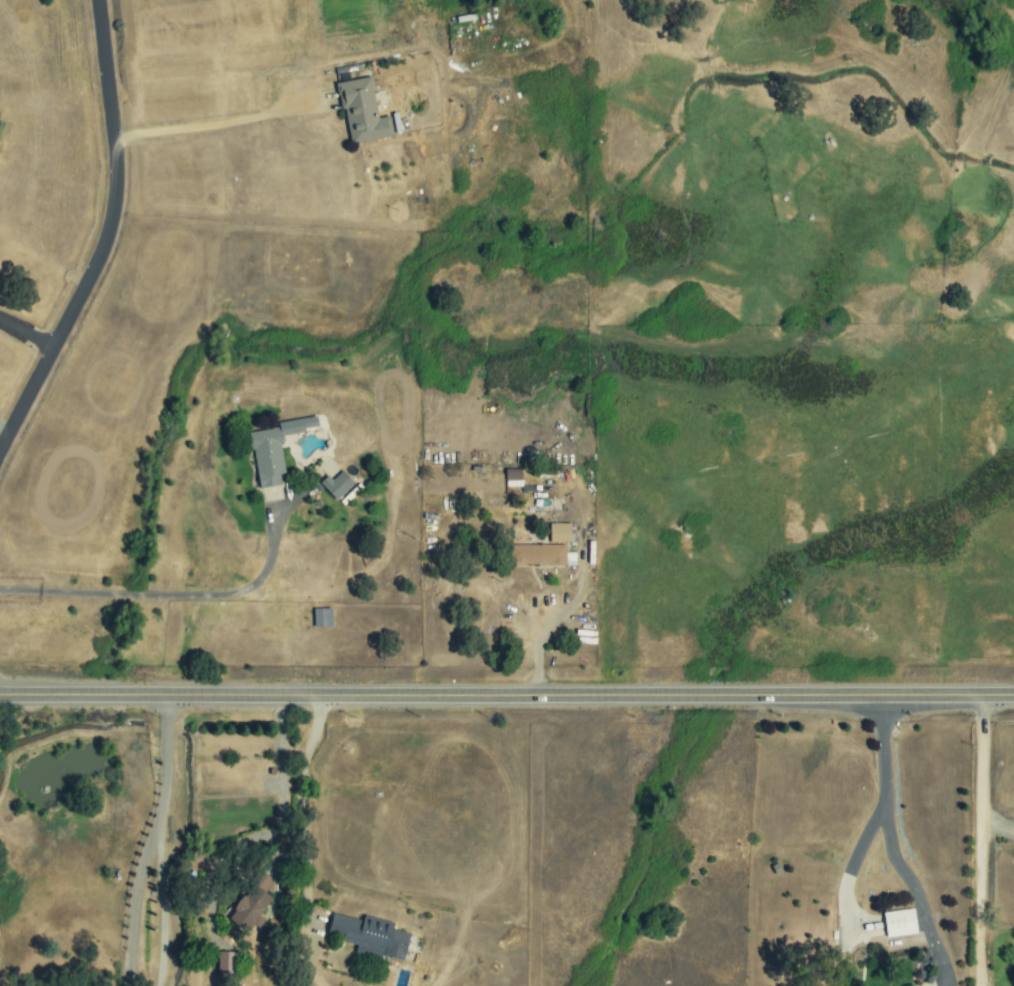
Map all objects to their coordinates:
building: (362, 112)
road: (209, 127)
road: (105, 235)
road: (27, 330)
road: (5, 423)
building: (274, 449)
building: (512, 474)
building: (336, 485)
building: (559, 533)
building: (539, 554)
road: (171, 596)
road: (575, 603)
building: (322, 617)
road: (506, 696)
road: (877, 818)
road: (269, 834)
road: (304, 839)
road: (150, 840)
road: (983, 841)
road: (919, 894)
building: (252, 903)
road: (160, 904)
building: (899, 923)
building: (369, 936)
building: (225, 962)

